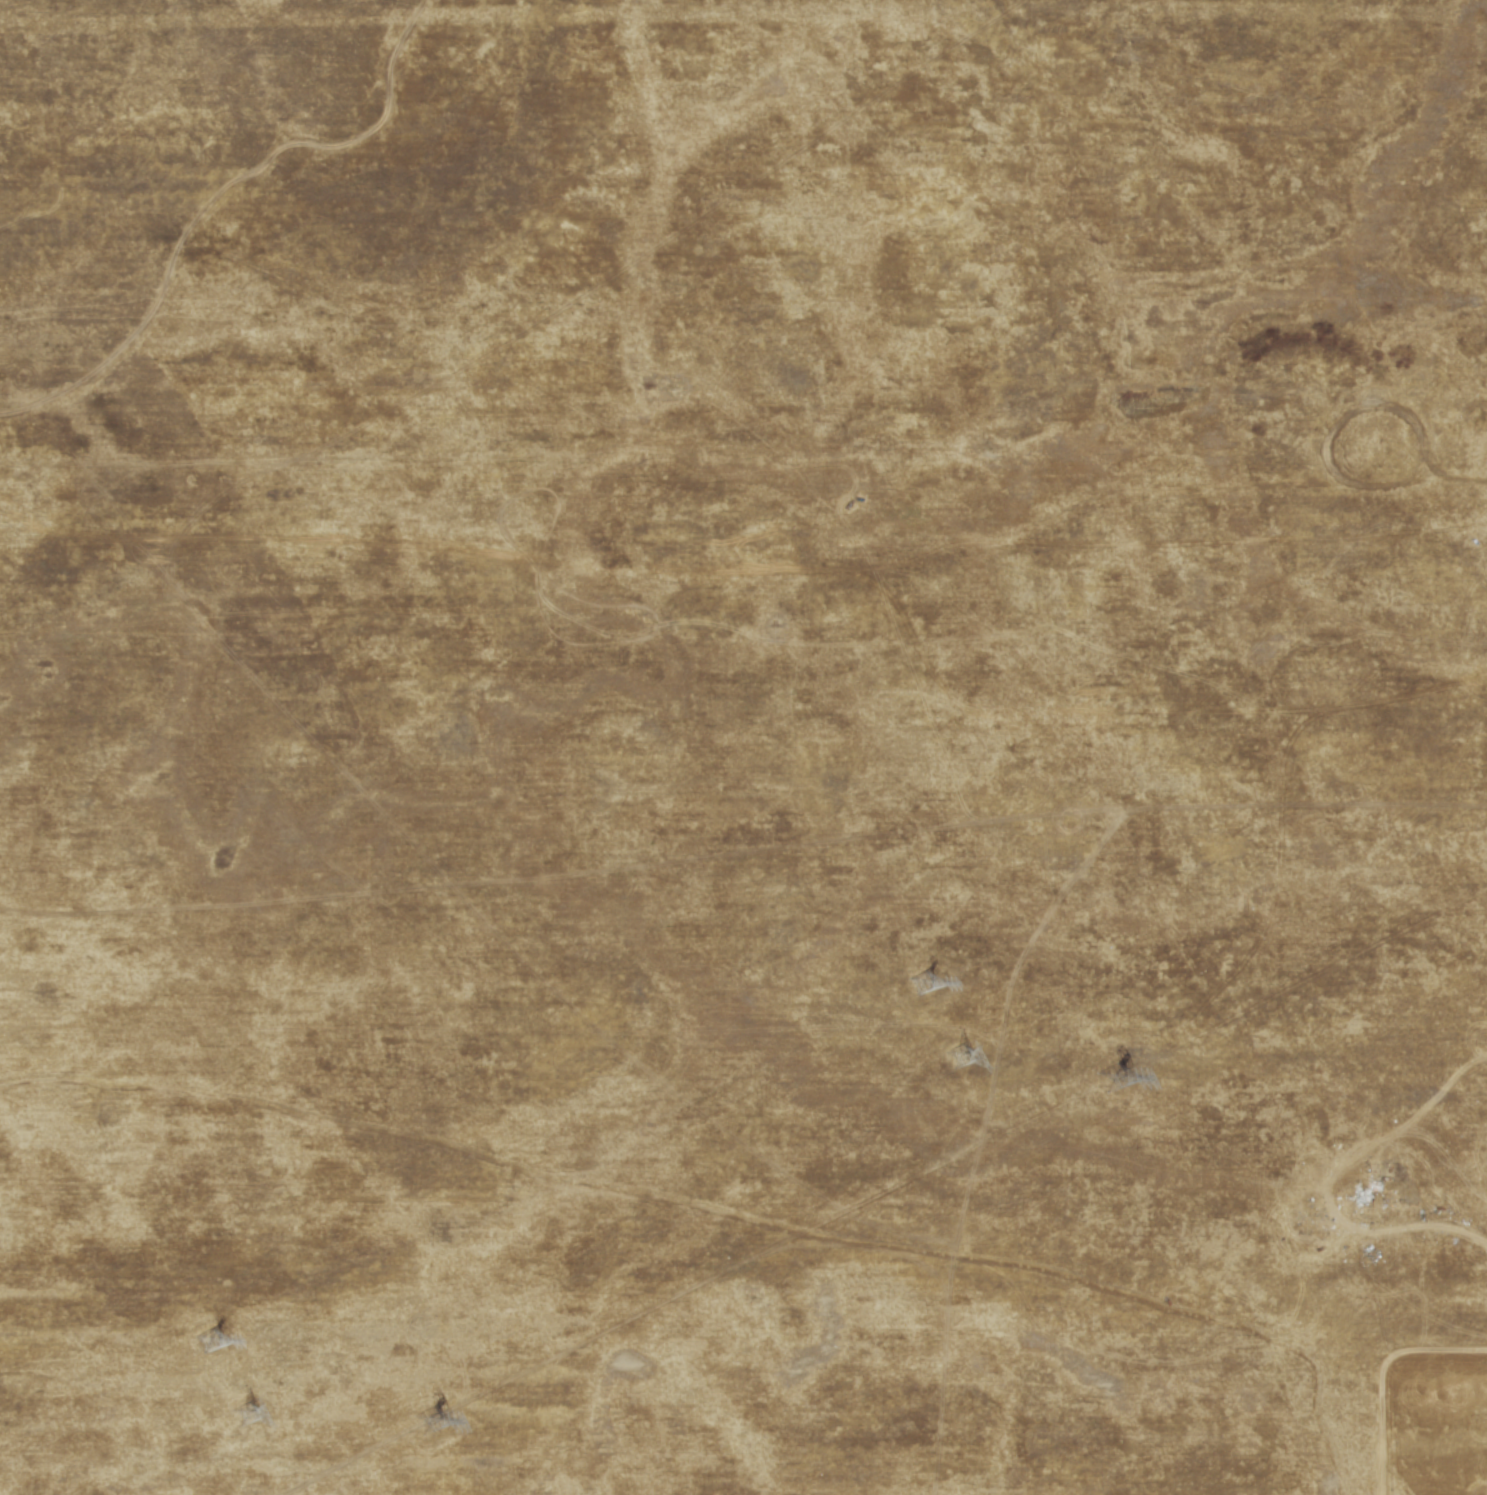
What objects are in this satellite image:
power tower: (924, 984)
power tower: (963, 1058)
power tower: (1114, 1079)
power tower: (211, 1344)
power tower: (249, 1417)
power tower: (431, 1424)

